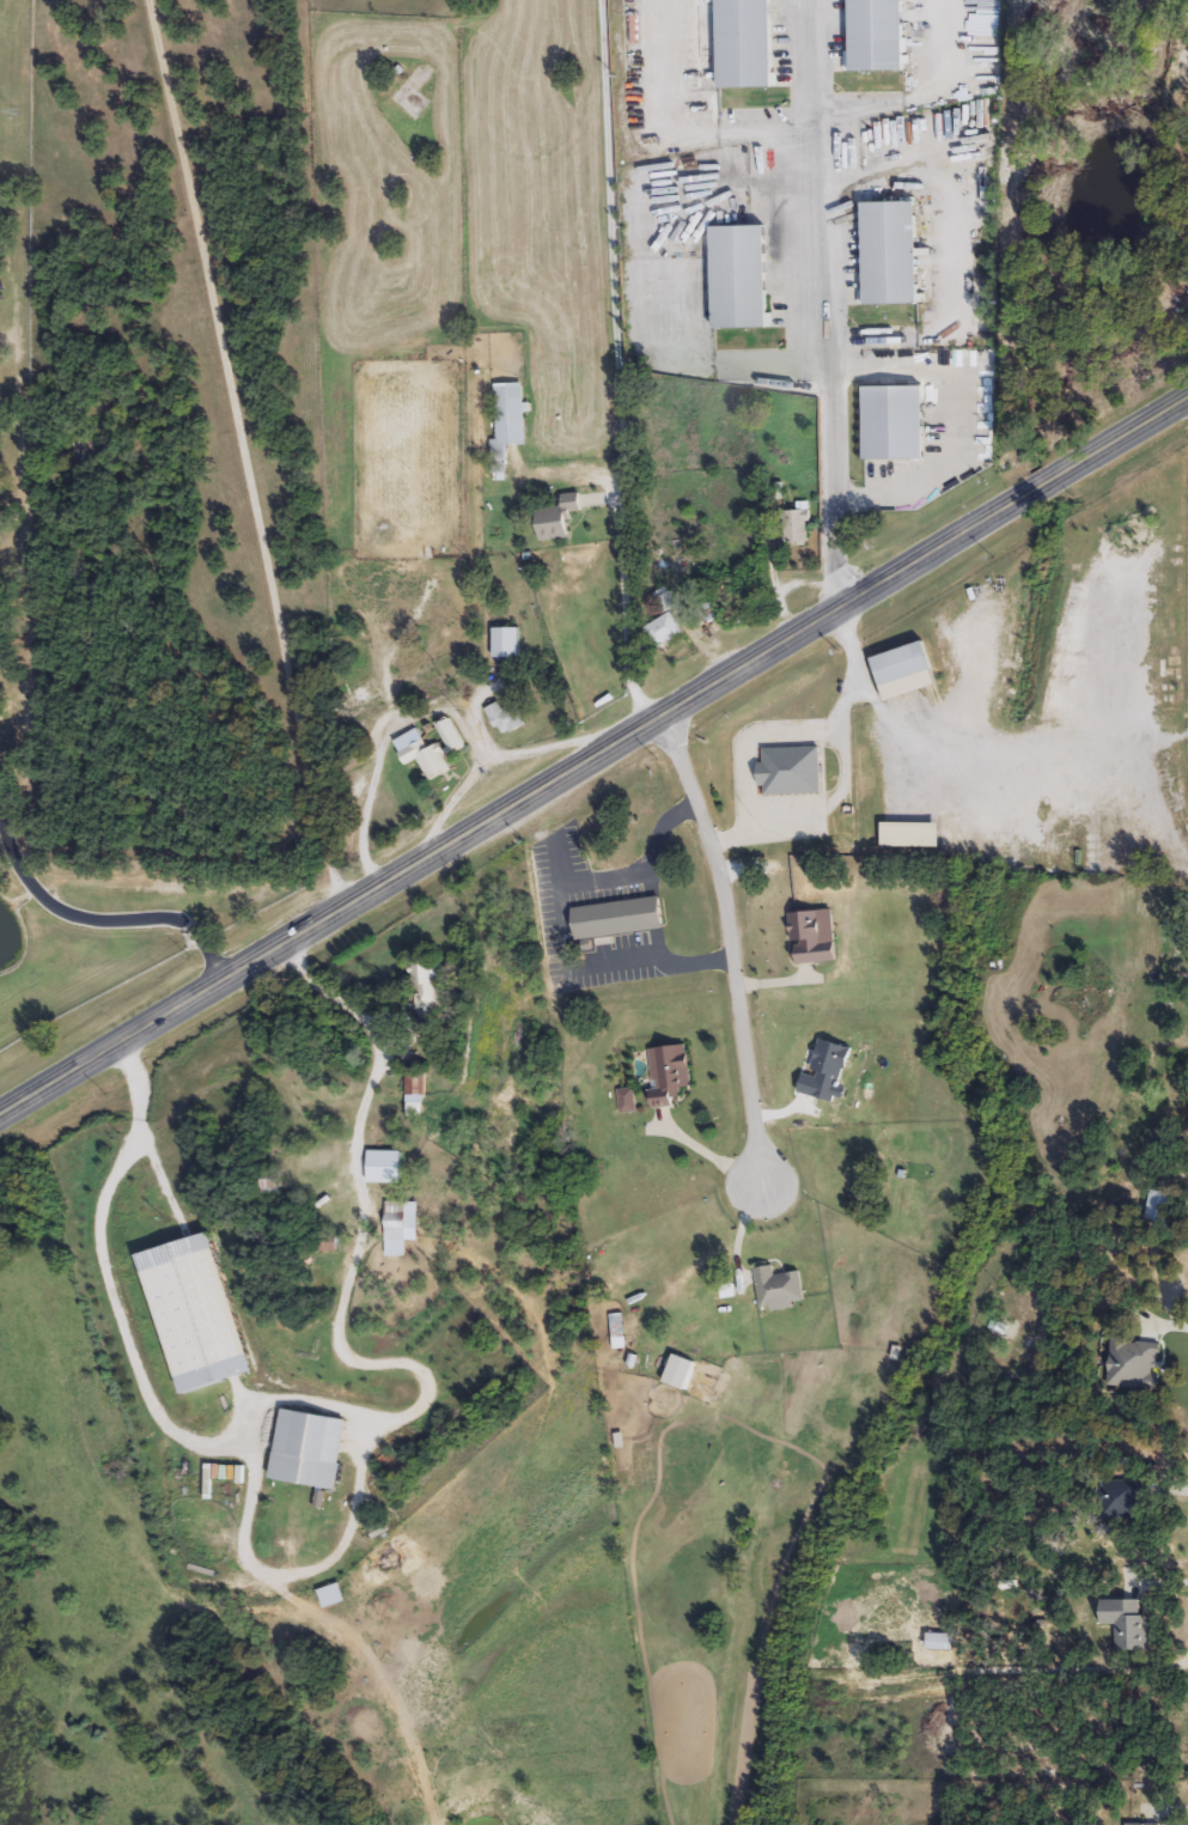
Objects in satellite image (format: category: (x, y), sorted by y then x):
building: (881, 36)
building: (748, 44)
building: (415, 93)
building: (895, 255)
building: (743, 278)
road: (828, 304)
road: (619, 366)
building: (511, 415)
building: (897, 425)
road: (952, 426)
road: (243, 457)
building: (560, 518)
building: (798, 529)
road: (864, 597)
building: (705, 612)
building: (672, 628)
building: (507, 644)
building: (904, 665)
building: (507, 719)
road: (790, 732)
building: (452, 737)
building: (426, 756)
building: (791, 771)
road: (829, 805)
road: (644, 868)
building: (621, 920)
road: (105, 924)
building: (811, 939)
road: (730, 943)
road: (269, 956)
road: (590, 965)
building: (426, 983)
building: (670, 1075)
building: (419, 1087)
building: (628, 1101)
building: (398, 1222)
road: (104, 1253)
building: (778, 1289)
road: (343, 1307)
building: (199, 1314)
building: (683, 1374)
building: (310, 1449)
building: (1121, 1499)
building: (1127, 1623)

